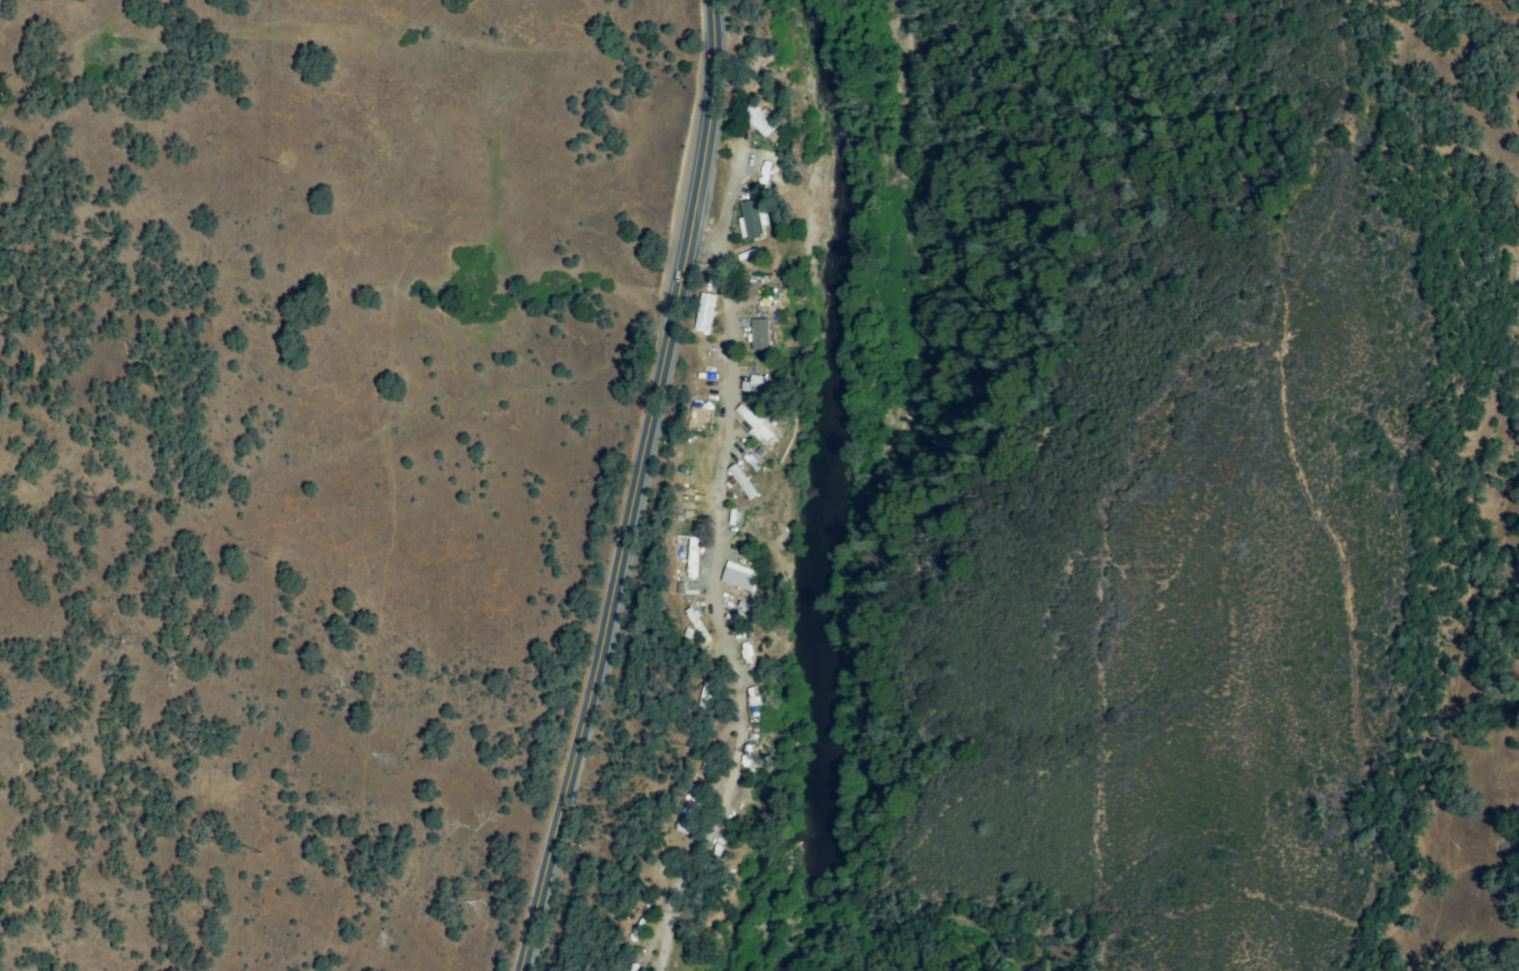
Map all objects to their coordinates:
road: (711, 37)
building: (757, 119)
building: (764, 174)
road: (725, 209)
building: (750, 221)
building: (703, 313)
building: (760, 335)
building: (758, 389)
river: (834, 409)
building: (754, 424)
building: (741, 481)
road: (621, 523)
building: (691, 558)
building: (739, 580)
road: (711, 613)
building: (695, 625)
building: (702, 698)
building: (716, 851)
river: (813, 898)
building: (636, 930)
building: (634, 967)

